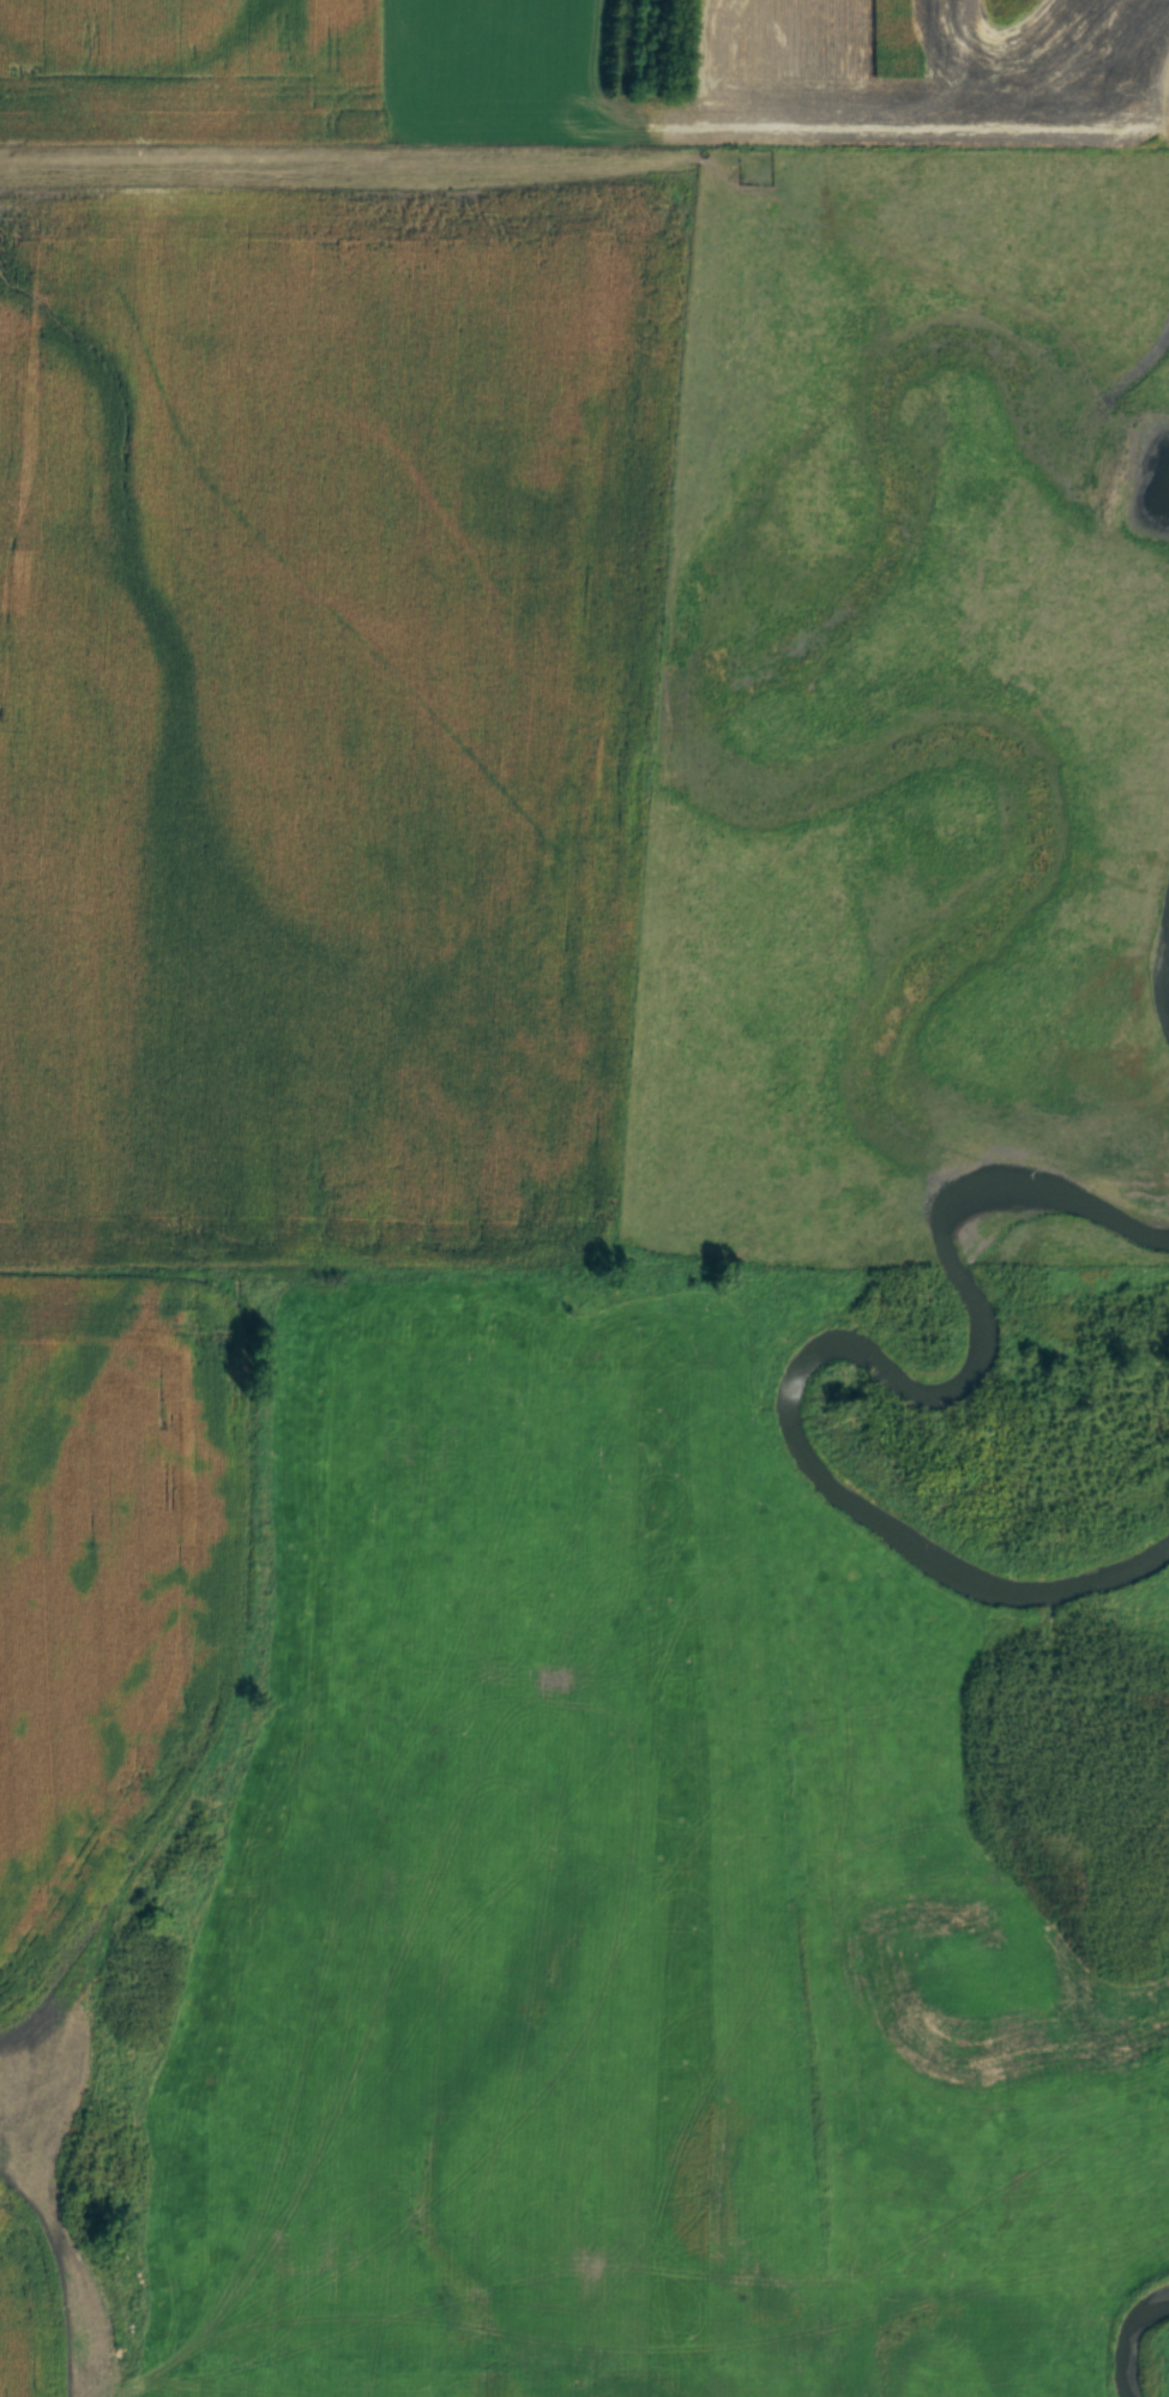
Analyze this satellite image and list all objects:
river: (811, 1361)
river: (1119, 2333)

